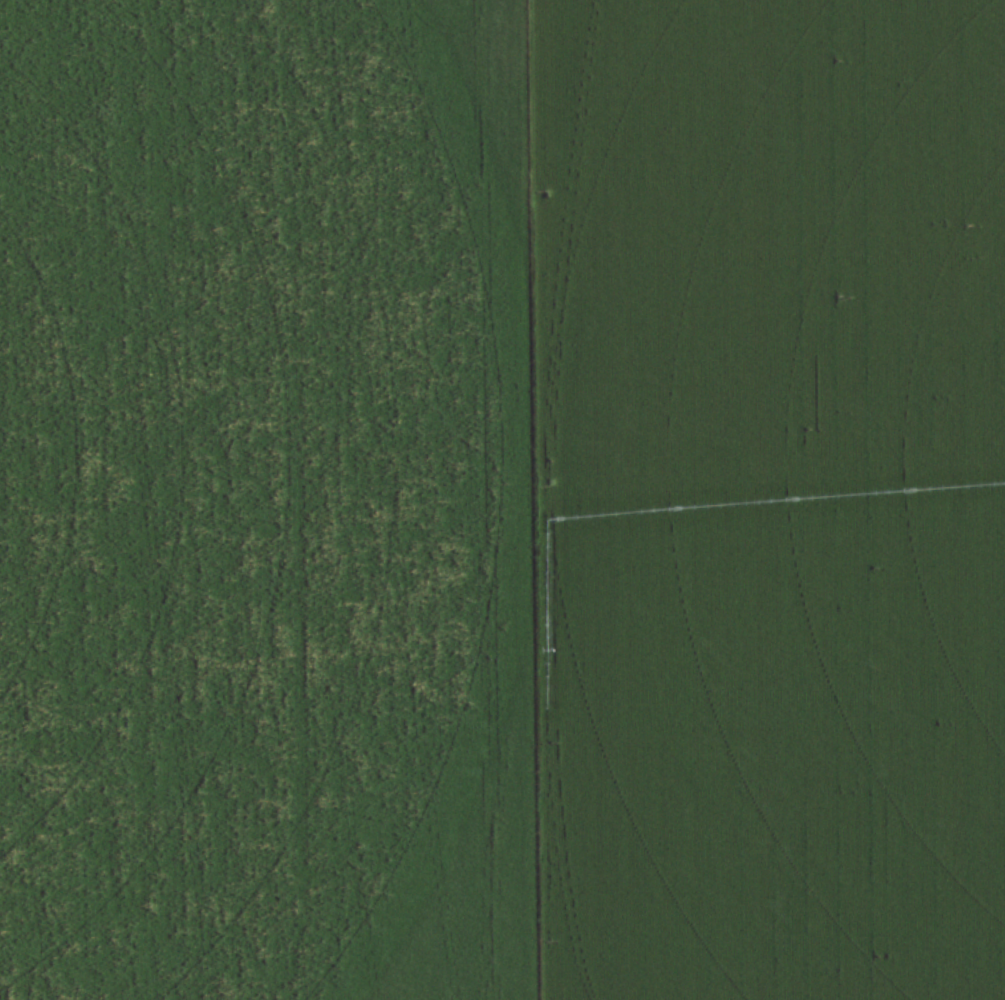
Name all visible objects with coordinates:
crop: (502, 500)

